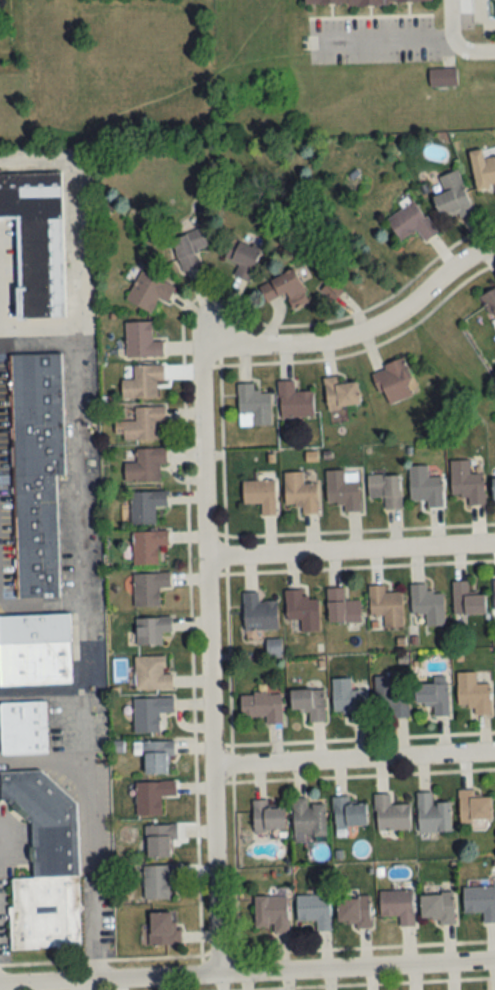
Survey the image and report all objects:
building: (364, 1)
road: (389, 38)
road: (457, 39)
building: (442, 76)
building: (483, 170)
building: (451, 196)
building: (411, 221)
building: (37, 239)
road: (78, 239)
building: (189, 247)
building: (242, 257)
building: (285, 288)
building: (148, 291)
building: (491, 307)
road: (369, 325)
building: (142, 340)
building: (143, 382)
building: (393, 382)
building: (341, 393)
building: (294, 400)
building: (253, 406)
building: (141, 424)
building: (145, 465)
building: (36, 471)
building: (466, 482)
building: (425, 487)
building: (343, 489)
building: (494, 489)
building: (385, 490)
building: (300, 492)
building: (261, 495)
building: (146, 505)
building: (147, 546)
road: (348, 549)
road: (88, 582)
building: (149, 588)
road: (42, 600)
building: (467, 600)
building: (427, 605)
building: (385, 606)
building: (342, 607)
building: (302, 610)
building: (259, 612)
building: (151, 630)
building: (35, 650)
road: (205, 655)
building: (151, 674)
road: (46, 689)
building: (473, 693)
building: (433, 697)
building: (389, 698)
building: (348, 699)
building: (308, 703)
building: (262, 706)
building: (151, 713)
building: (23, 728)
building: (156, 756)
road: (352, 757)
building: (152, 796)
building: (474, 807)
building: (348, 813)
building: (391, 814)
building: (432, 815)
building: (268, 817)
building: (308, 818)
building: (160, 840)
building: (44, 864)
road: (94, 867)
building: (159, 881)
building: (480, 902)
building: (397, 906)
building: (436, 908)
building: (315, 911)
building: (354, 911)
building: (272, 912)
building: (163, 930)
road: (247, 972)

